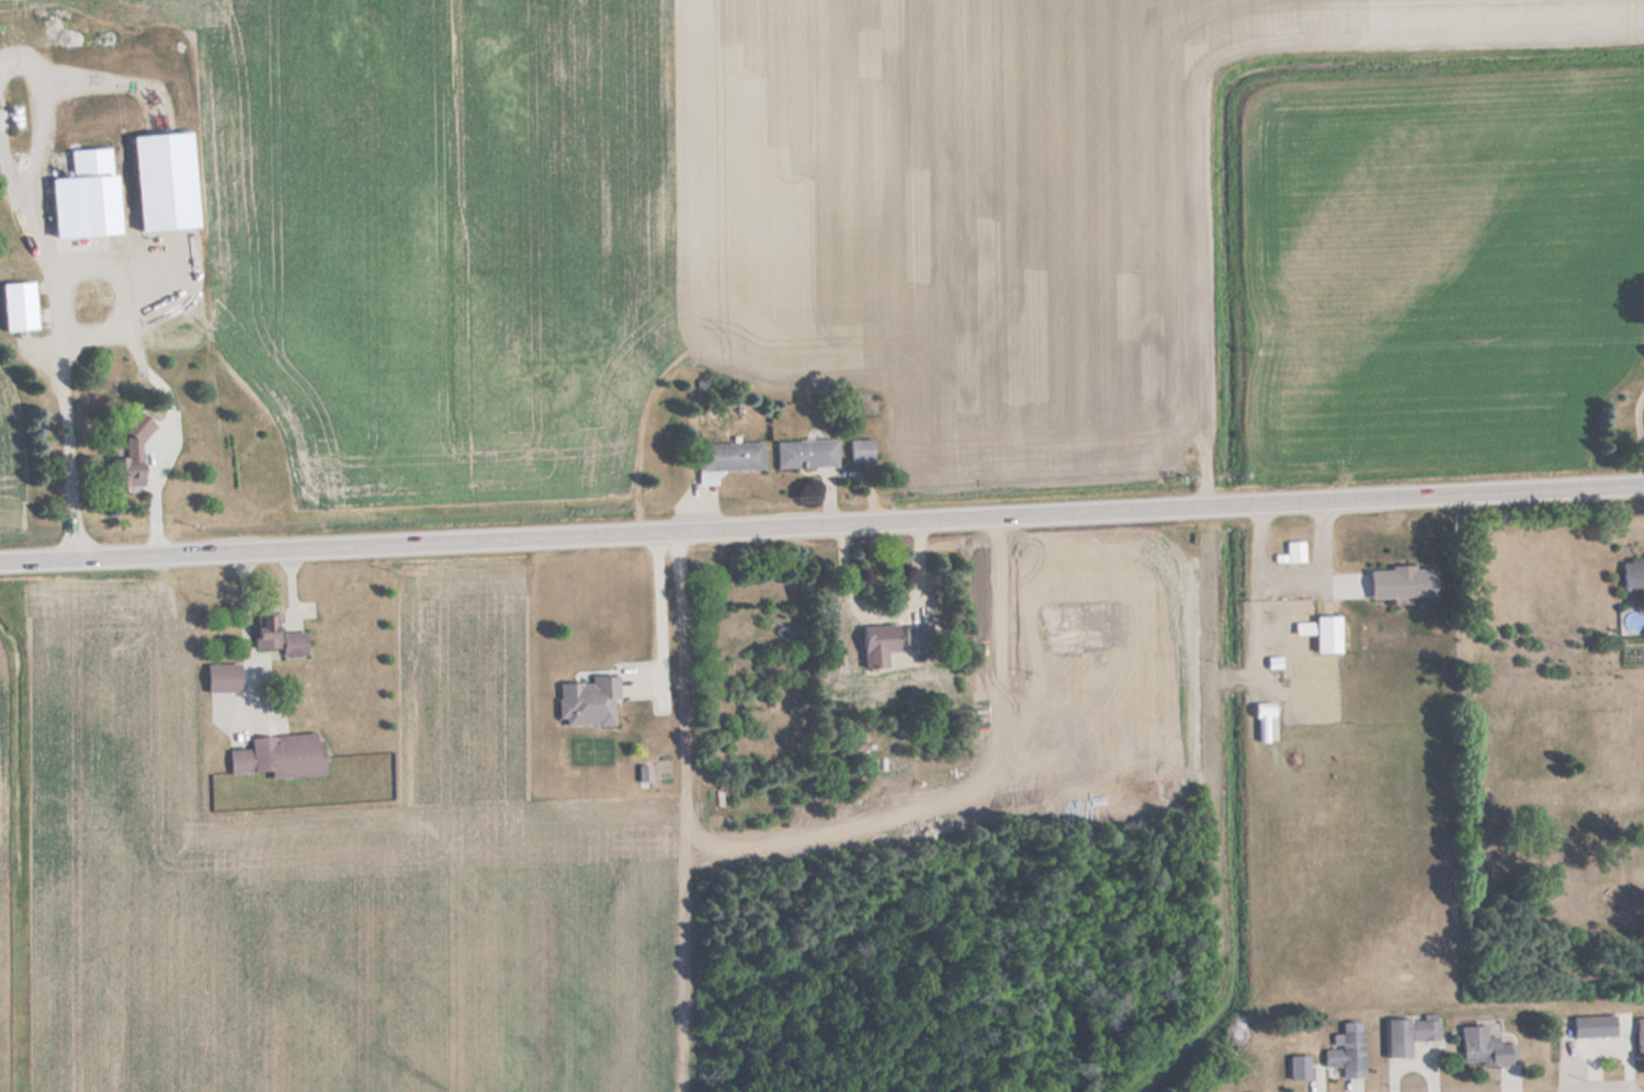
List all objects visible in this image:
building: (107, 194)
building: (161, 280)
building: (14, 306)
building: (859, 450)
building: (804, 452)
building: (728, 455)
building: (123, 468)
road: (1594, 485)
road: (771, 522)
building: (1293, 550)
building: (1632, 578)
building: (1381, 582)
building: (273, 634)
building: (916, 634)
building: (1324, 634)
building: (872, 645)
building: (218, 676)
building: (585, 701)
building: (1265, 723)
building: (275, 755)
building: (1590, 1025)
building: (1405, 1033)
building: (1639, 1035)
building: (1482, 1046)
building: (1346, 1049)
building: (1296, 1066)

